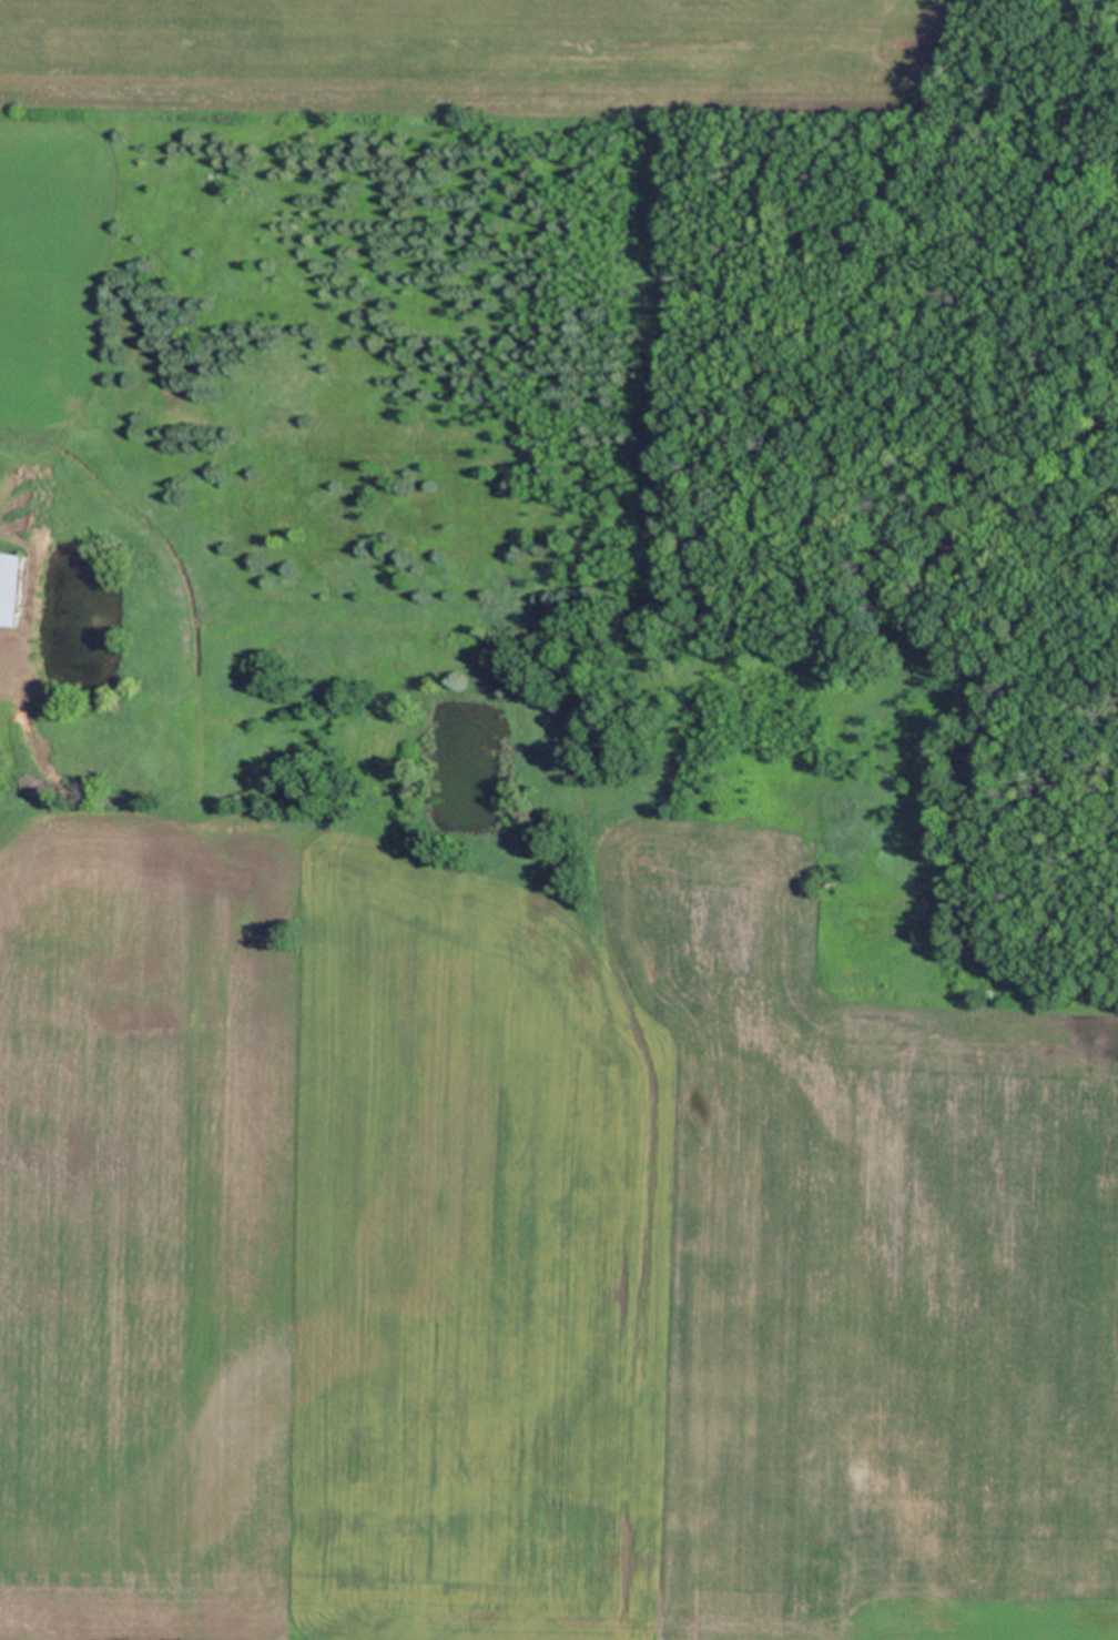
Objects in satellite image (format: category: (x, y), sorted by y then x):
building: (8, 589)

